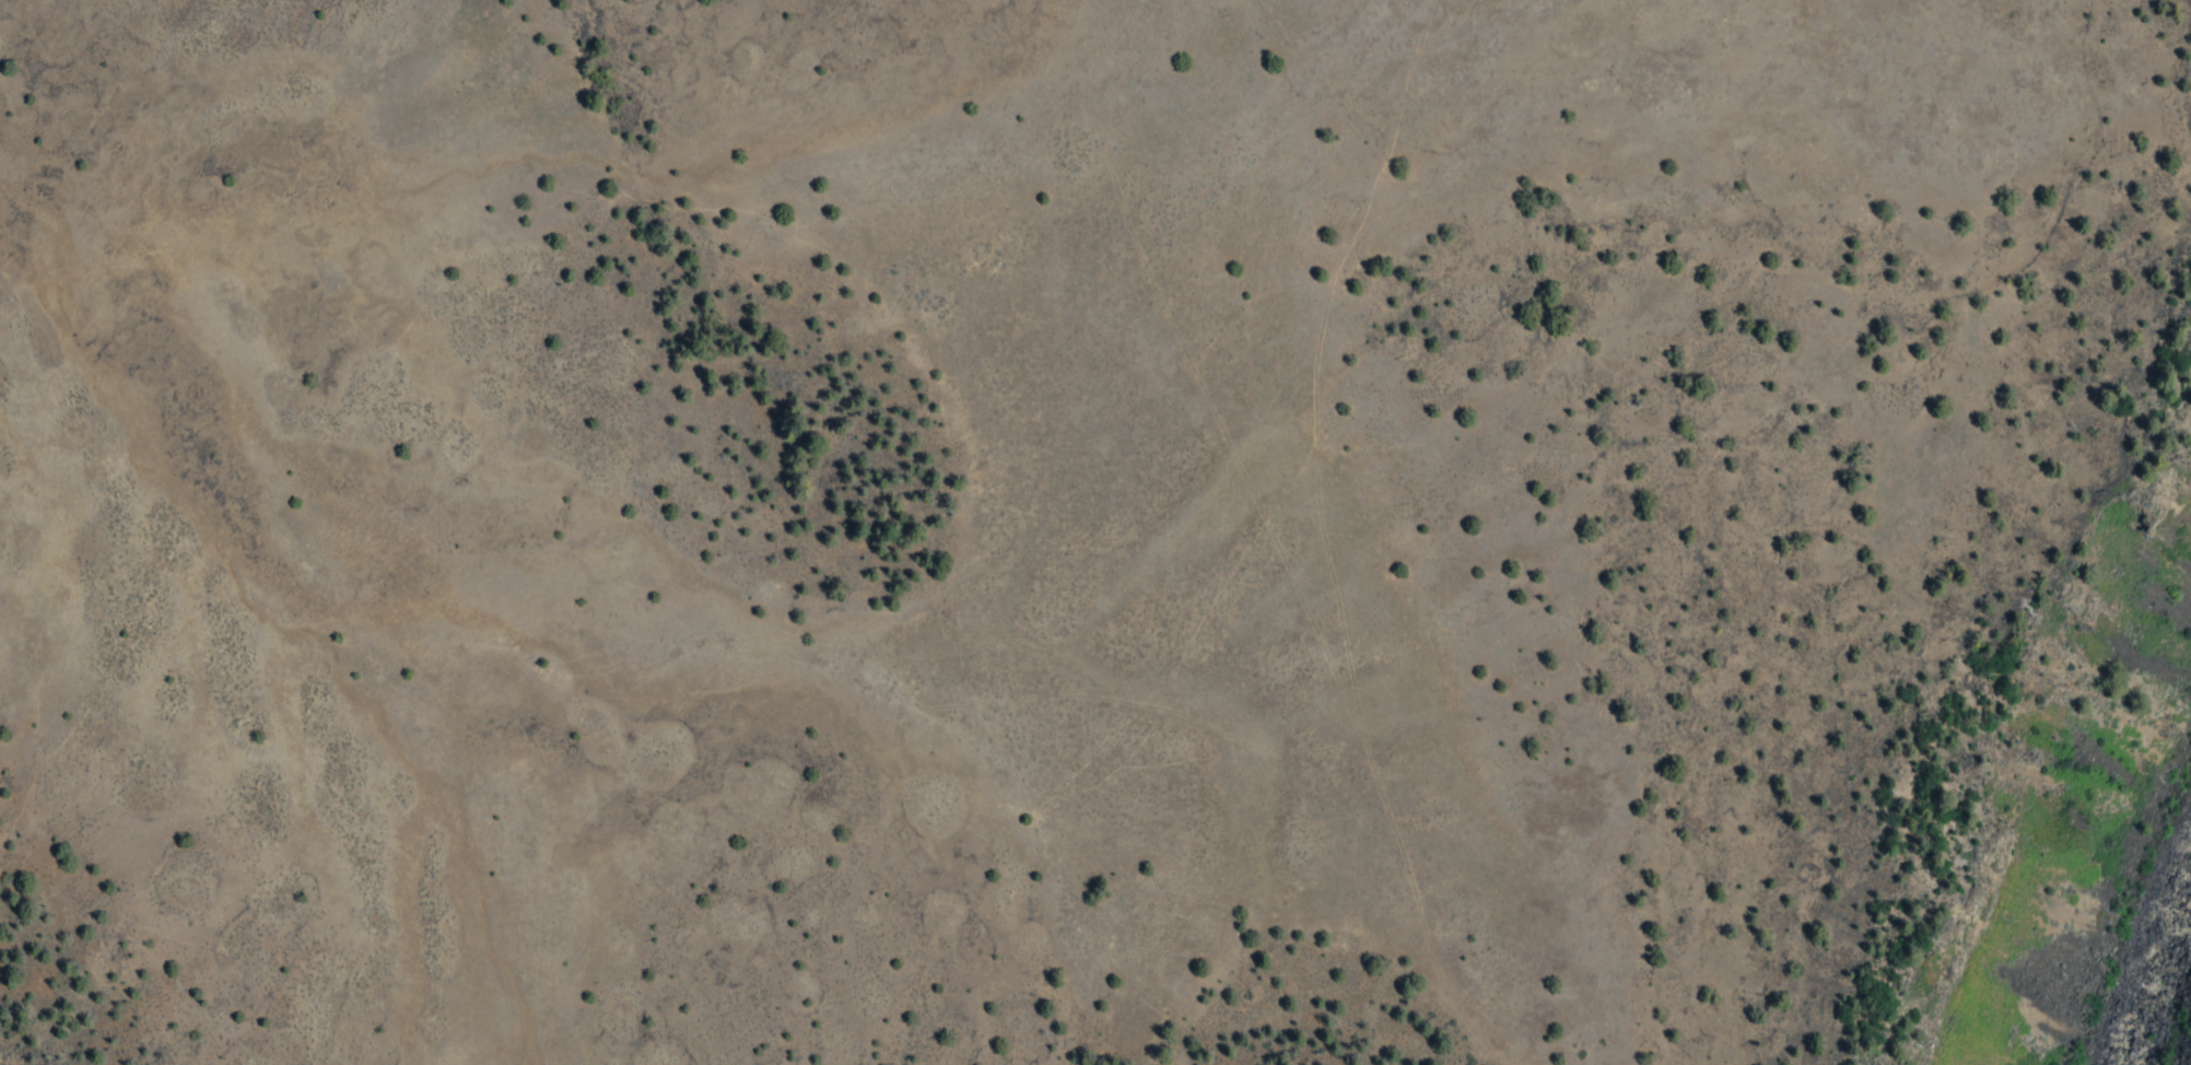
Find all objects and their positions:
river: (2161, 994)

